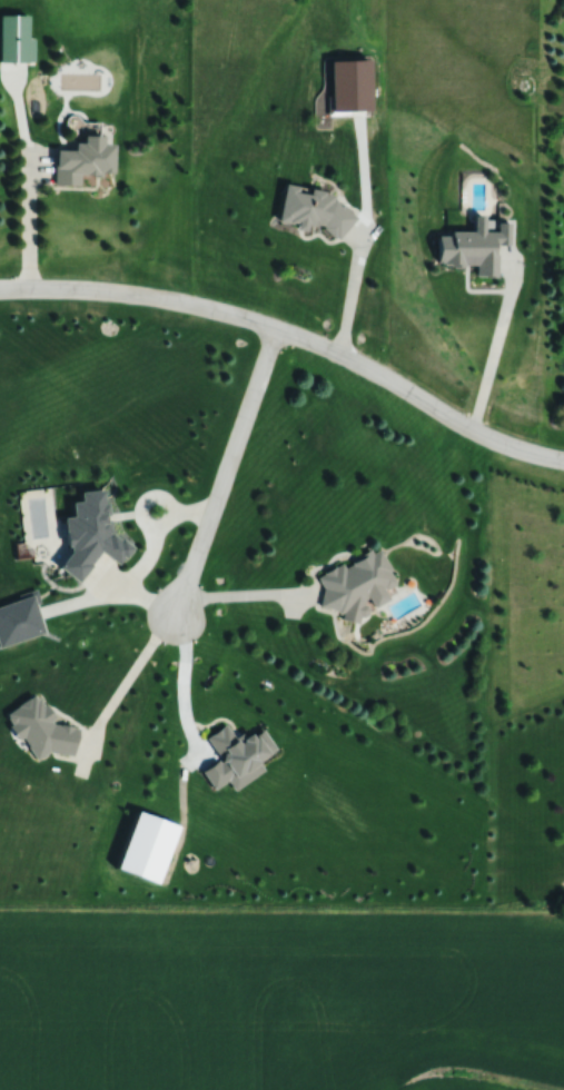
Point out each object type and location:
building: (85, 159)
building: (316, 210)
road: (29, 225)
road: (350, 296)
road: (294, 336)
road: (492, 348)
road: (221, 472)
road: (145, 557)
building: (357, 585)
road: (244, 593)
road: (133, 665)
road: (182, 675)

